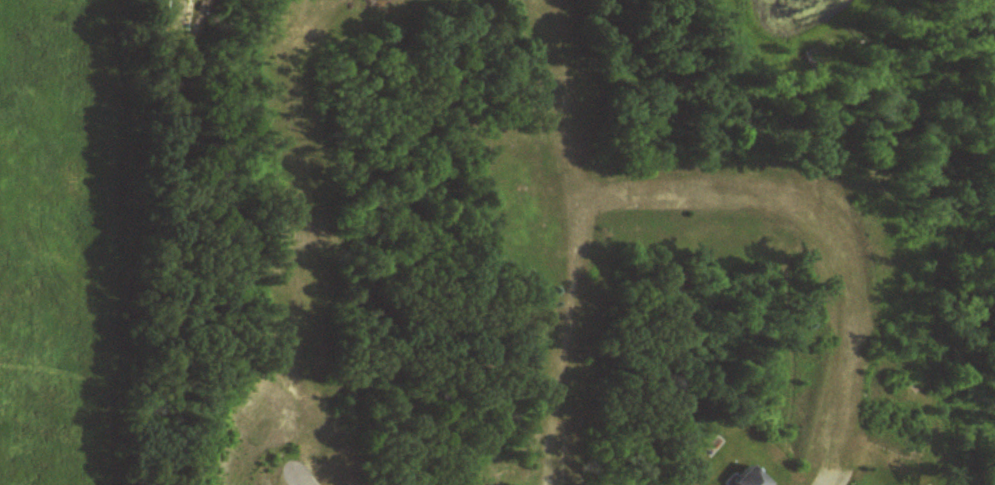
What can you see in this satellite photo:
building: (180, 15)
road: (575, 247)
road: (831, 476)
road: (293, 479)
building: (750, 479)

